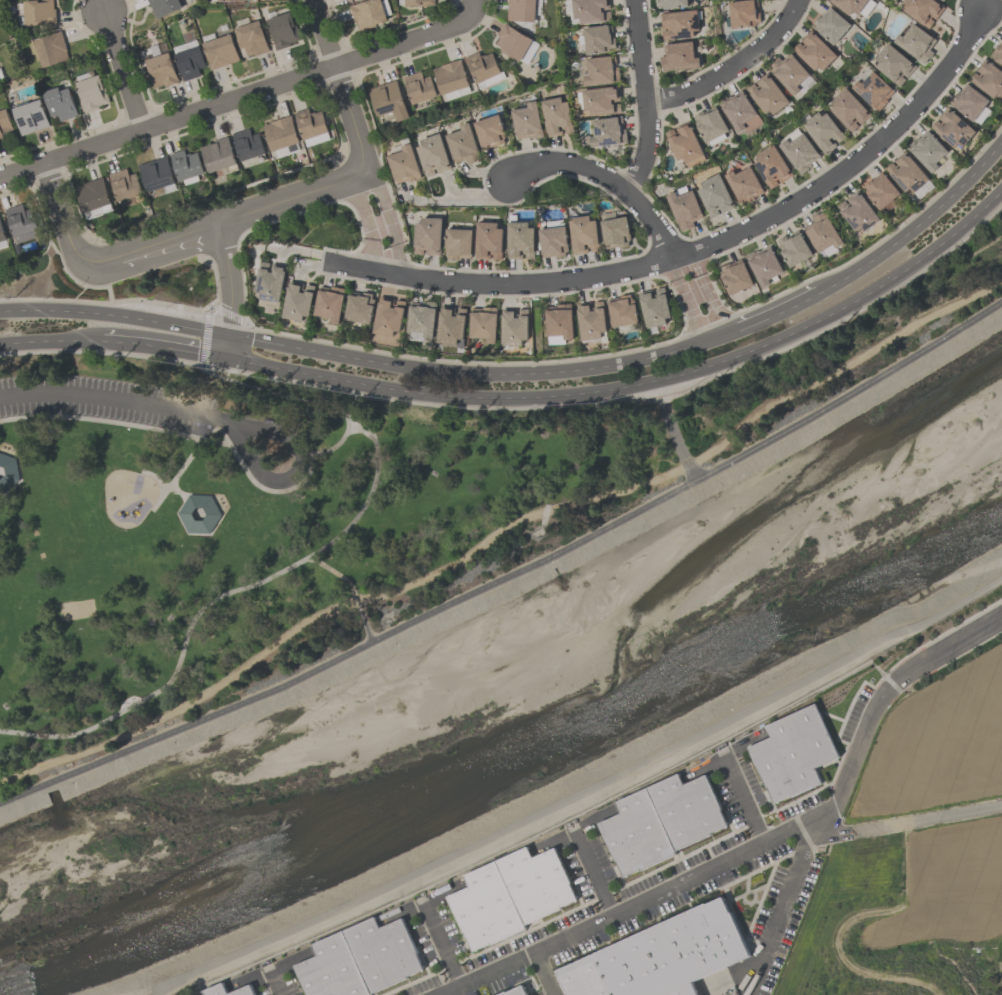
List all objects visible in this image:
building: (227, 0)
building: (941, 0)
building: (418, 2)
building: (672, 3)
building: (849, 5)
building: (163, 6)
building: (520, 10)
building: (591, 10)
building: (923, 10)
building: (37, 12)
building: (367, 13)
building: (744, 13)
building: (679, 24)
building: (831, 24)
building: (282, 30)
building: (251, 38)
building: (598, 39)
building: (513, 42)
building: (916, 43)
building: (51, 49)
building: (220, 51)
building: (814, 51)
building: (997, 53)
building: (678, 56)
building: (189, 62)
building: (893, 63)
building: (482, 66)
road: (732, 66)
road: (123, 70)
building: (161, 70)
building: (601, 70)
building: (788, 72)
building: (450, 76)
building: (988, 78)
building: (0, 85)
building: (419, 87)
building: (872, 90)
building: (92, 93)
road: (344, 93)
building: (768, 94)
road: (245, 95)
road: (645, 97)
building: (388, 100)
building: (601, 100)
building: (969, 102)
building: (60, 103)
building: (737, 109)
building: (849, 109)
building: (556, 116)
building: (30, 117)
building: (527, 121)
building: (4, 123)
building: (310, 123)
building: (710, 124)
building: (952, 128)
building: (490, 131)
building: (823, 131)
building: (608, 132)
building: (281, 133)
building: (247, 144)
building: (462, 144)
building: (684, 144)
building: (927, 150)
building: (800, 152)
building: (218, 155)
building: (433, 155)
building: (186, 164)
building: (404, 164)
building: (772, 166)
building: (906, 173)
building: (157, 175)
road: (607, 178)
building: (125, 184)
building: (744, 184)
building: (880, 190)
building: (93, 195)
building: (715, 196)
road: (464, 201)
road: (282, 203)
building: (684, 209)
building: (858, 211)
road: (389, 218)
building: (21, 219)
road: (368, 224)
road: (917, 228)
building: (615, 232)
building: (822, 232)
building: (2, 233)
road: (68, 234)
building: (583, 234)
building: (427, 236)
building: (520, 240)
building: (488, 241)
building: (553, 241)
road: (171, 242)
building: (458, 243)
road: (702, 246)
building: (794, 249)
building: (764, 264)
building: (735, 277)
road: (232, 281)
building: (270, 281)
road: (709, 288)
road: (687, 298)
building: (298, 300)
building: (329, 305)
building: (655, 307)
building: (359, 308)
building: (622, 312)
road: (775, 315)
building: (389, 316)
road: (117, 317)
building: (422, 318)
building: (559, 320)
building: (591, 320)
building: (484, 323)
building: (451, 325)
building: (514, 327)
road: (57, 341)
road: (231, 349)
road: (173, 351)
road: (482, 375)
road: (640, 385)
road: (299, 401)
road: (116, 402)
road: (356, 426)
road: (220, 429)
road: (358, 431)
road: (179, 433)
road: (676, 433)
road: (180, 469)
building: (8, 472)
road: (19, 473)
road: (299, 473)
road: (165, 483)
road: (166, 486)
road: (159, 487)
road: (164, 493)
road: (369, 494)
park: (327, 512)
building: (199, 515)
road: (221, 516)
road: (501, 534)
road: (512, 578)
road: (352, 591)
park: (77, 609)
road: (174, 675)
river: (506, 708)
building: (793, 754)
road: (583, 793)
road: (744, 800)
crop: (929, 809)
building: (687, 810)
road: (905, 823)
building: (637, 835)
road: (761, 847)
road: (594, 874)
building: (537, 884)
road: (782, 908)
building: (486, 909)
road: (441, 945)
building: (383, 953)
building: (662, 956)
building: (333, 969)
road: (545, 974)
road: (275, 983)
building: (218, 988)
building: (517, 991)

